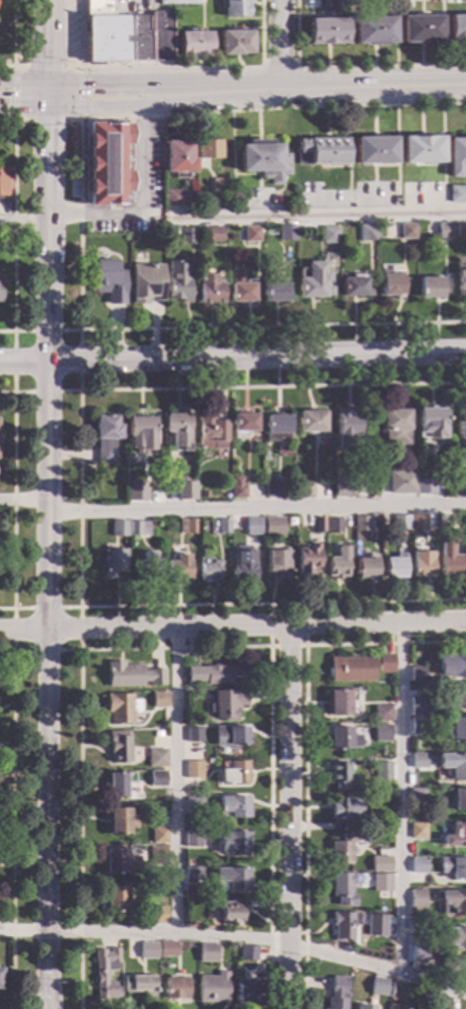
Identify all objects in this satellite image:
building: (178, 3)
building: (403, 6)
building: (234, 8)
building: (328, 26)
building: (419, 29)
building: (456, 29)
building: (373, 31)
building: (124, 35)
road: (13, 36)
road: (82, 37)
road: (49, 42)
building: (235, 43)
building: (193, 44)
road: (281, 45)
traffic signals: (49, 62)
road: (380, 65)
road: (13, 67)
road: (45, 67)
road: (163, 67)
road: (279, 68)
road: (212, 83)
road: (96, 84)
road: (24, 85)
traffic signals: (87, 85)
road: (373, 88)
road: (13, 94)
road: (80, 95)
road: (143, 95)
road: (48, 96)
road: (213, 101)
road: (96, 106)
road: (24, 107)
traffic signals: (8, 108)
road: (272, 108)
road: (20, 121)
road: (47, 121)
road: (73, 121)
traffic signals: (48, 127)
road: (6, 132)
building: (209, 149)
building: (422, 149)
building: (323, 151)
building: (375, 151)
building: (457, 156)
building: (179, 157)
building: (109, 161)
building: (265, 161)
building: (4, 180)
building: (219, 185)
building: (457, 192)
building: (180, 197)
road: (140, 207)
road: (317, 216)
road: (24, 221)
building: (461, 229)
building: (408, 230)
building: (445, 230)
road: (13, 232)
building: (288, 232)
building: (368, 232)
road: (80, 233)
building: (252, 233)
building: (213, 234)
building: (188, 235)
building: (330, 235)
building: (327, 249)
building: (108, 281)
building: (180, 281)
building: (146, 283)
building: (461, 283)
building: (390, 284)
building: (240, 287)
building: (355, 287)
building: (430, 287)
building: (209, 288)
building: (314, 288)
building: (1, 289)
building: (275, 291)
road: (273, 326)
road: (23, 331)
road: (46, 331)
road: (69, 331)
road: (233, 359)
road: (80, 361)
road: (13, 362)
road: (273, 386)
road: (69, 391)
road: (23, 392)
road: (46, 392)
building: (311, 420)
building: (430, 421)
building: (245, 422)
building: (395, 426)
building: (277, 427)
building: (178, 429)
building: (210, 430)
building: (346, 430)
building: (141, 432)
building: (461, 432)
building: (106, 437)
building: (0, 439)
building: (406, 480)
building: (425, 486)
building: (238, 488)
building: (274, 489)
building: (305, 489)
building: (342, 489)
building: (186, 490)
building: (135, 492)
building: (207, 494)
road: (80, 495)
road: (13, 497)
road: (23, 501)
road: (256, 509)
building: (443, 521)
building: (401, 522)
building: (416, 522)
building: (464, 522)
building: (361, 523)
building: (320, 524)
building: (187, 525)
building: (334, 525)
building: (225, 526)
building: (254, 526)
building: (273, 526)
building: (119, 528)
building: (139, 528)
road: (47, 558)
building: (449, 560)
building: (308, 561)
building: (114, 562)
building: (339, 562)
building: (279, 563)
building: (465, 563)
building: (149, 566)
building: (179, 566)
building: (394, 567)
building: (422, 567)
building: (366, 568)
building: (210, 570)
building: (244, 571)
road: (273, 603)
road: (69, 608)
road: (23, 609)
road: (46, 609)
road: (233, 626)
road: (80, 629)
road: (13, 630)
road: (268, 642)
road: (68, 650)
road: (24, 651)
road: (46, 651)
building: (451, 665)
building: (360, 667)
building: (216, 673)
building: (418, 673)
building: (133, 675)
building: (459, 696)
building: (160, 699)
building: (341, 701)
building: (229, 703)
building: (419, 706)
building: (123, 708)
building: (381, 713)
building: (418, 723)
building: (454, 729)
building: (383, 732)
road: (268, 733)
building: (194, 735)
building: (231, 735)
building: (343, 738)
building: (119, 746)
road: (304, 746)
building: (157, 758)
building: (419, 761)
building: (454, 765)
building: (194, 769)
building: (383, 770)
building: (233, 772)
building: (340, 774)
building: (158, 778)
road: (176, 780)
building: (120, 783)
building: (418, 796)
road: (401, 798)
building: (459, 799)
building: (195, 806)
building: (346, 806)
building: (232, 807)
road: (289, 817)
building: (121, 820)
road: (12, 824)
road: (80, 824)
building: (369, 824)
building: (419, 831)
building: (159, 834)
building: (455, 835)
building: (193, 838)
building: (234, 843)
building: (342, 849)
building: (158, 854)
building: (120, 861)
building: (382, 863)
building: (419, 865)
building: (454, 867)
building: (194, 873)
building: (232, 879)
building: (382, 882)
building: (342, 888)
building: (418, 898)
building: (118, 900)
building: (457, 903)
building: (233, 911)
building: (158, 914)
building: (344, 924)
building: (418, 925)
building: (454, 937)
road: (236, 939)
building: (168, 948)
building: (149, 950)
building: (208, 952)
building: (249, 952)
building: (418, 952)
building: (383, 953)
building: (457, 967)
building: (0, 971)
building: (105, 971)
building: (141, 984)
building: (379, 986)
building: (214, 987)
building: (177, 988)
building: (397, 991)
building: (337, 993)
building: (248, 994)
building: (438, 1002)
building: (364, 1006)
building: (393, 1006)

